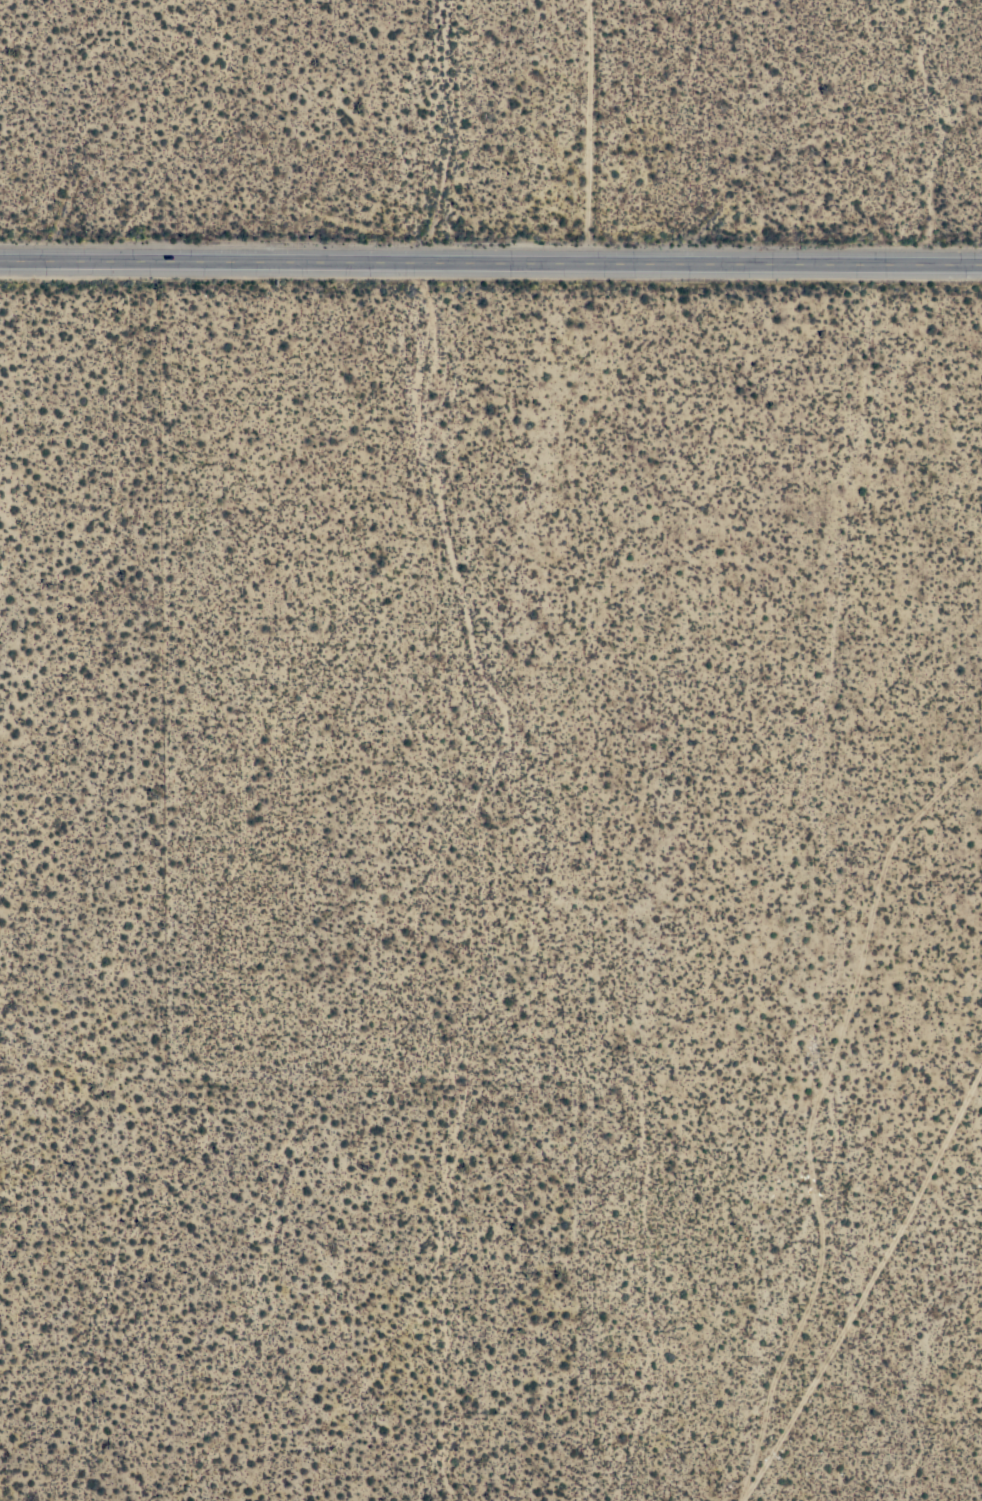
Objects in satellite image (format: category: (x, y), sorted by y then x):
road: (491, 264)

